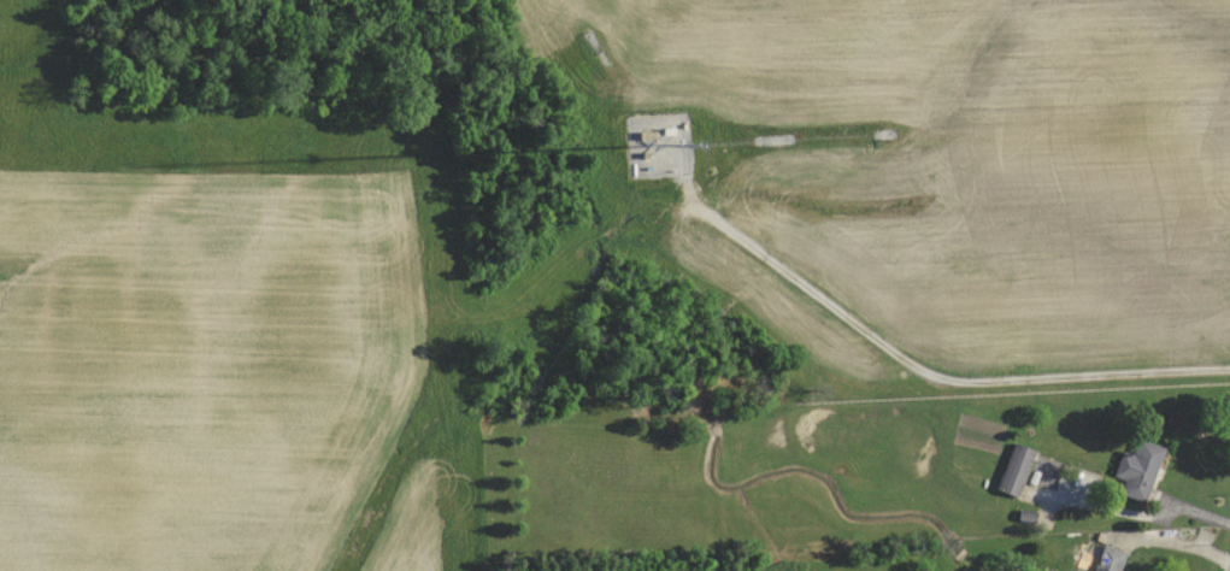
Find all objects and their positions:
building: (1014, 469)
building: (1137, 470)
building: (1104, 558)

